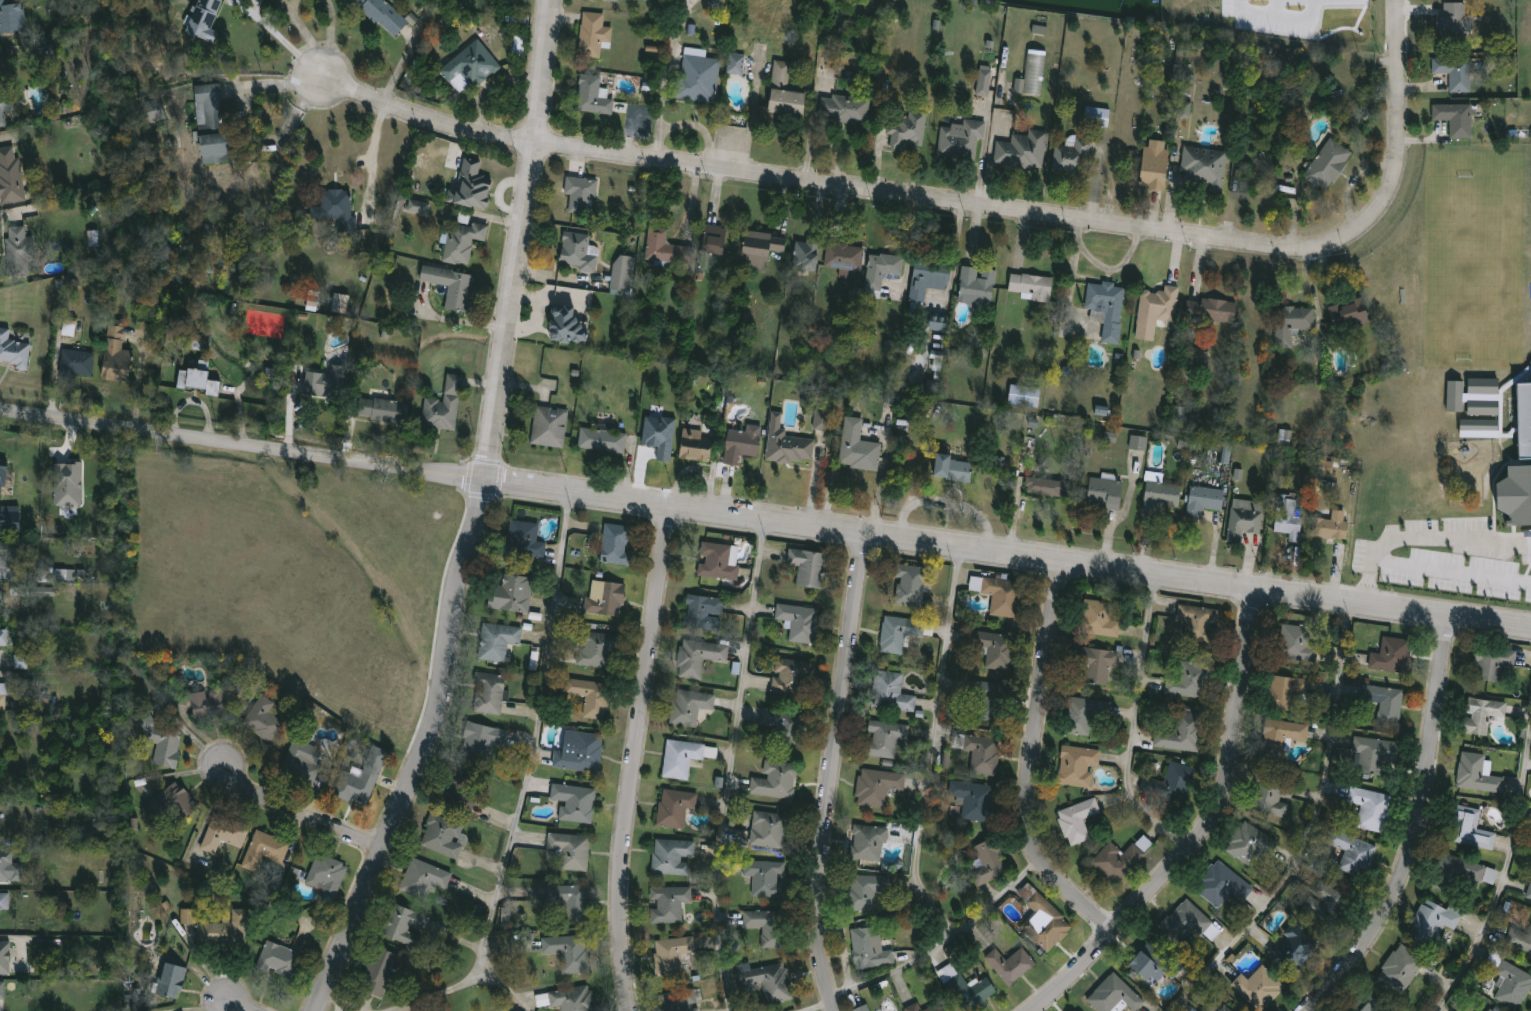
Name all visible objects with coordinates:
building: (614, 0)
building: (719, 4)
road: (1324, 4)
park: (1113, 8)
road: (1285, 12)
building: (383, 13)
building: (11, 16)
parking lot: (1292, 18)
building: (204, 19)
building: (1453, 21)
road: (1302, 26)
building: (593, 34)
road: (284, 37)
building: (518, 45)
building: (735, 64)
building: (469, 67)
building: (1454, 71)
road: (324, 74)
building: (1032, 74)
building: (698, 76)
building: (984, 80)
building: (1190, 81)
building: (784, 91)
building: (592, 95)
building: (4, 106)
building: (155, 108)
building: (843, 108)
building: (1184, 109)
building: (1096, 116)
building: (1454, 118)
building: (211, 124)
road: (243, 125)
building: (907, 130)
building: (961, 140)
building: (1023, 150)
road: (373, 154)
building: (1071, 157)
building: (1155, 164)
building: (1328, 164)
building: (1203, 166)
building: (11, 174)
road: (1097, 175)
building: (471, 186)
building: (581, 193)
road: (961, 203)
building: (419, 206)
building: (339, 207)
building: (714, 239)
building: (463, 240)
building: (665, 247)
building: (760, 249)
building: (18, 250)
building: (578, 250)
building: (807, 254)
building: (844, 255)
building: (883, 268)
building: (623, 272)
building: (928, 277)
building: (977, 283)
building: (451, 285)
building: (1030, 285)
building: (1159, 302)
building: (1107, 306)
building: (1211, 309)
building: (1349, 313)
building: (258, 314)
building: (938, 322)
building: (1292, 322)
building: (567, 324)
building: (13, 350)
building: (116, 352)
building: (77, 362)
building: (196, 380)
building: (323, 383)
building: (1483, 386)
building: (1024, 395)
building: (1455, 395)
building: (443, 404)
building: (1483, 406)
building: (381, 409)
building: (1522, 419)
building: (821, 420)
building: (549, 425)
building: (1479, 425)
building: (660, 435)
building: (602, 439)
building: (1138, 442)
building: (742, 443)
building: (788, 443)
building: (696, 444)
building: (858, 446)
building: (1226, 453)
building: (952, 466)
building: (1326, 467)
building: (2, 477)
building: (68, 484)
building: (1047, 486)
building: (1104, 492)
building: (1161, 496)
building: (1203, 500)
road: (765, 517)
building: (1289, 517)
building: (10, 518)
road: (479, 518)
building: (1244, 522)
building: (1333, 525)
building: (523, 538)
road: (1427, 540)
building: (616, 543)
building: (4, 553)
building: (716, 561)
building: (808, 566)
road: (1454, 571)
building: (57, 575)
park: (296, 576)
building: (909, 584)
building: (511, 592)
building: (998, 594)
building: (1, 595)
building: (606, 599)
building: (703, 611)
building: (1097, 619)
building: (798, 621)
building: (1198, 623)
building: (895, 633)
building: (4, 635)
building: (497, 640)
building: (1296, 643)
building: (593, 648)
building: (996, 649)
building: (1391, 655)
building: (699, 656)
building: (21, 661)
building: (1493, 662)
building: (1097, 665)
building: (788, 675)
building: (1189, 681)
building: (890, 691)
building: (1286, 691)
building: (488, 692)
building: (589, 695)
building: (4, 696)
building: (988, 701)
building: (1385, 702)
building: (209, 704)
building: (689, 705)
building: (1482, 714)
building: (1080, 715)
building: (262, 719)
building: (781, 723)
road: (1133, 725)
building: (1182, 733)
building: (1280, 738)
building: (158, 739)
building: (481, 739)
building: (885, 739)
building: (579, 751)
building: (979, 751)
building: (1372, 755)
road: (637, 757)
building: (681, 757)
building: (302, 763)
road: (731, 764)
road: (1029, 764)
building: (1077, 765)
road: (835, 771)
building: (1477, 774)
road: (527, 778)
building: (360, 779)
building: (775, 780)
building: (1170, 784)
building: (877, 786)
building: (459, 789)
building: (1272, 796)
road: (925, 799)
building: (974, 799)
building: (574, 801)
building: (172, 803)
building: (674, 807)
building: (1370, 808)
road: (298, 817)
building: (1076, 820)
road: (1205, 828)
road: (1419, 828)
building: (768, 829)
road: (1315, 829)
building: (1470, 829)
building: (224, 831)
building: (443, 835)
building: (0, 842)
building: (868, 842)
building: (1249, 843)
building: (263, 849)
building: (570, 850)
building: (1353, 853)
building: (672, 856)
building: (1120, 858)
building: (988, 861)
building: (5, 864)
building: (1462, 873)
road: (1504, 876)
building: (326, 877)
building: (765, 877)
building: (423, 878)
building: (1222, 884)
building: (866, 890)
building: (1529, 892)
building: (4, 899)
building: (569, 900)
building: (1325, 902)
building: (667, 903)
building: (188, 916)
building: (504, 917)
building: (1043, 919)
building: (1433, 919)
building: (1186, 923)
building: (405, 925)
building: (765, 925)
building: (224, 930)
building: (1520, 938)
building: (870, 948)
building: (1293, 948)
building: (568, 951)
building: (671, 954)
building: (5, 956)
building: (279, 960)
building: (1155, 960)
building: (1010, 964)
building: (1400, 969)
building: (377, 970)
road: (895, 970)
building: (171, 980)
building: (768, 981)
building: (1510, 982)
building: (1261, 987)
road: (506, 988)
building: (2, 989)
building: (970, 991)
building: (1113, 995)
building: (572, 999)
building: (679, 1000)
road: (344, 1002)
building: (1368, 1004)
road: (233, 1005)
road: (815, 1006)
building: (913, 1007)
building: (862, 1008)
building: (934, 1008)
building: (1225, 1008)
building: (1077, 1010)
building: (1203, 1010)
building: (1489, 1010)

